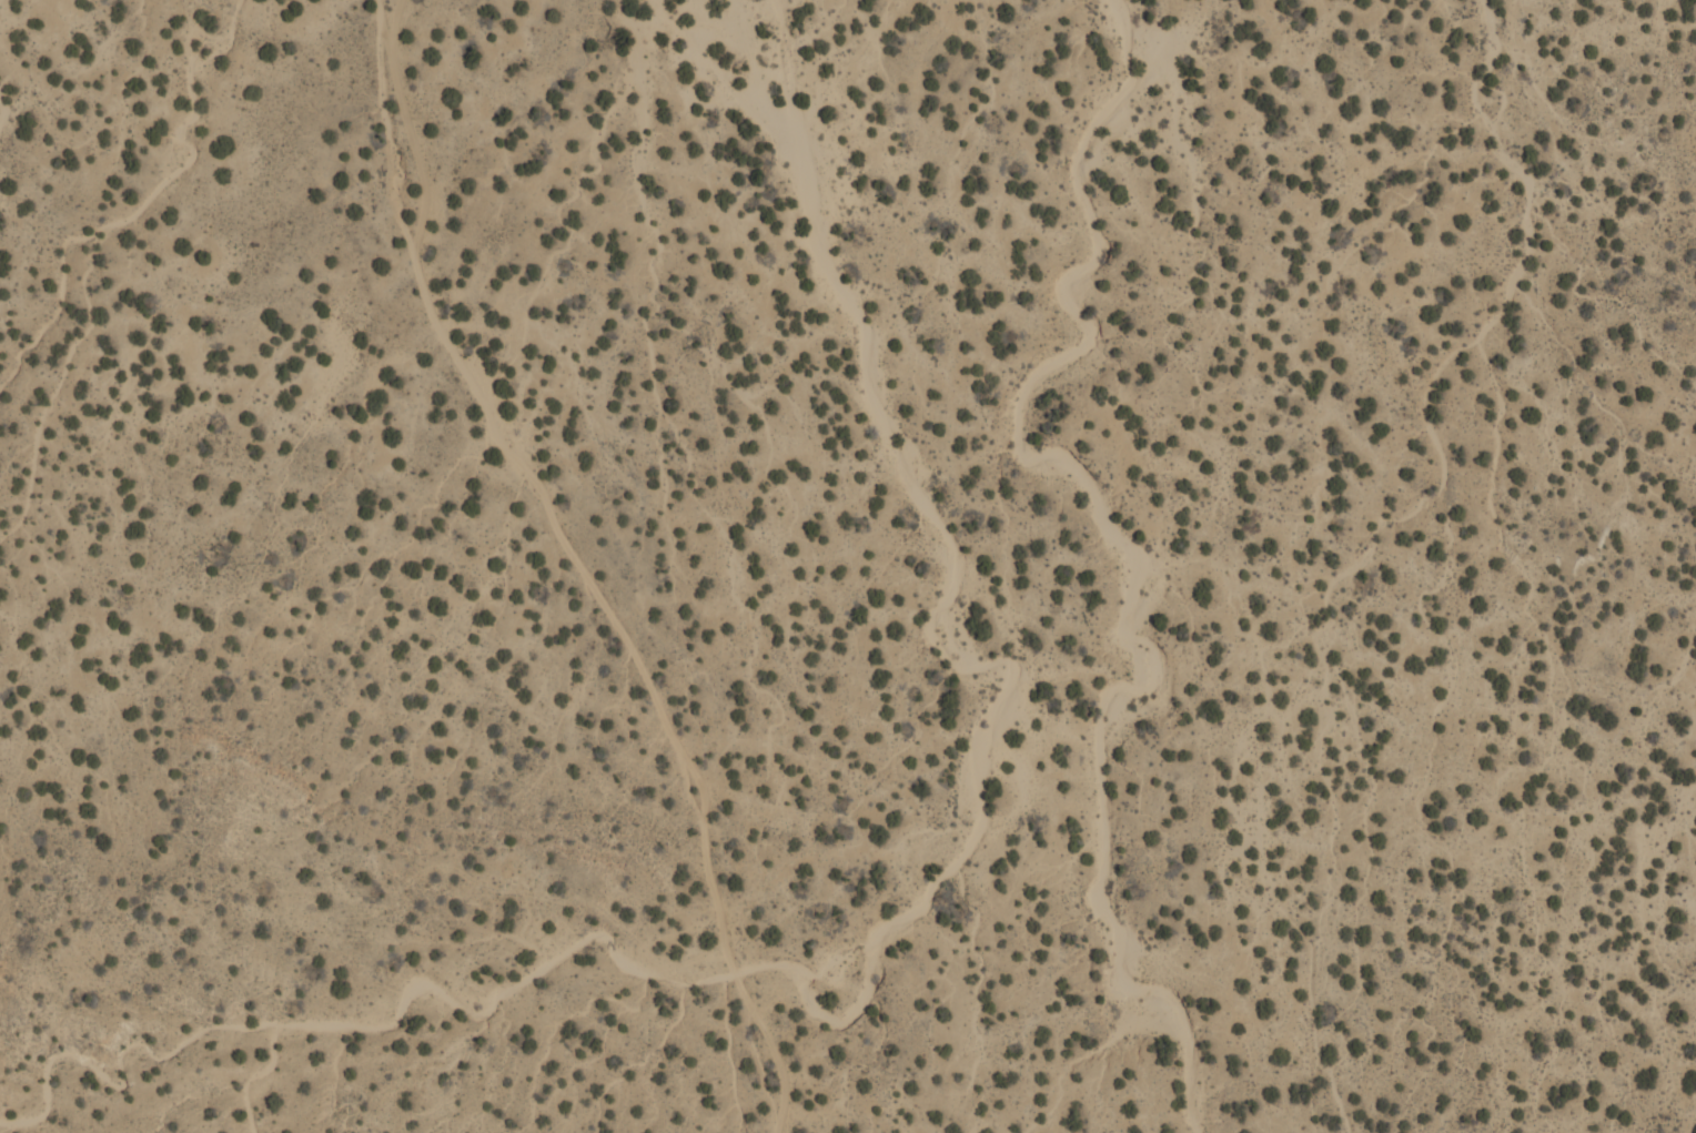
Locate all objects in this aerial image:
road: (577, 560)

